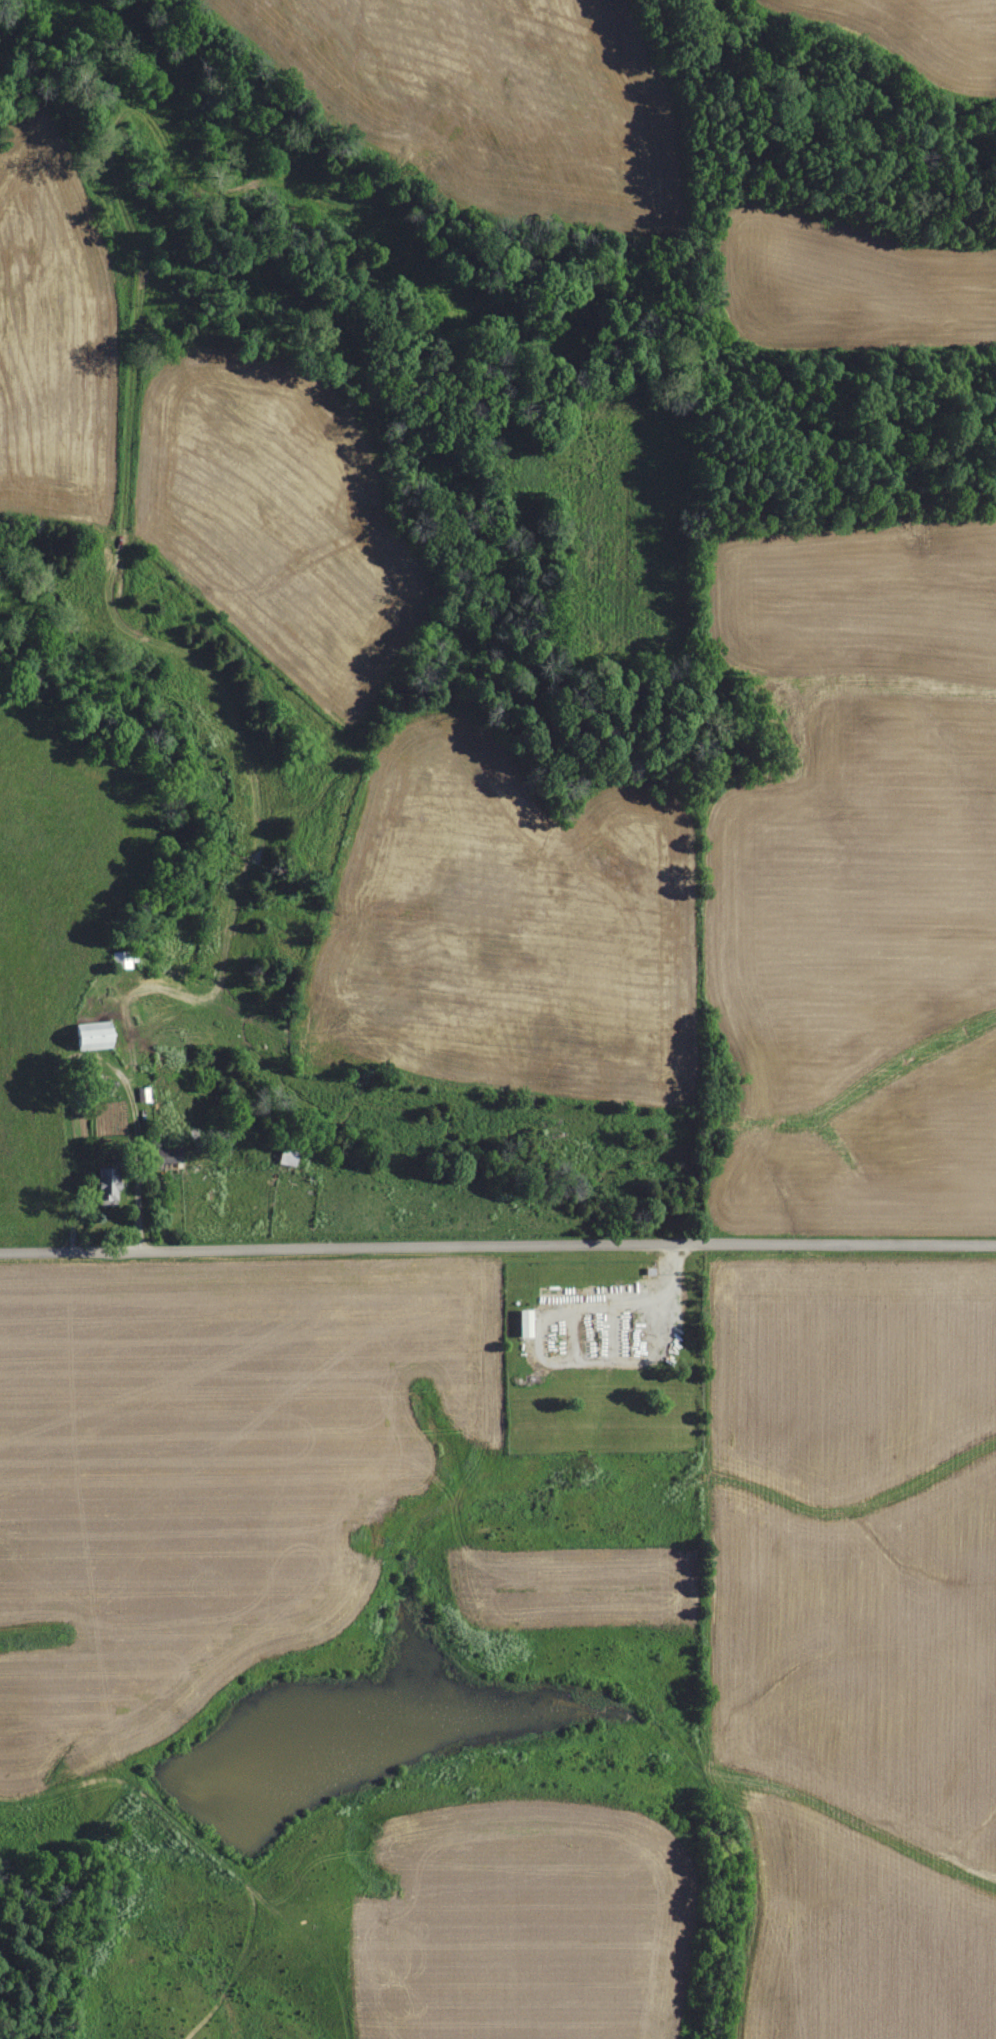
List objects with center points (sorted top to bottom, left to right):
building: (87, 1037)
building: (164, 1155)
road: (136, 1157)
building: (102, 1184)
road: (497, 1245)
building: (521, 1323)

